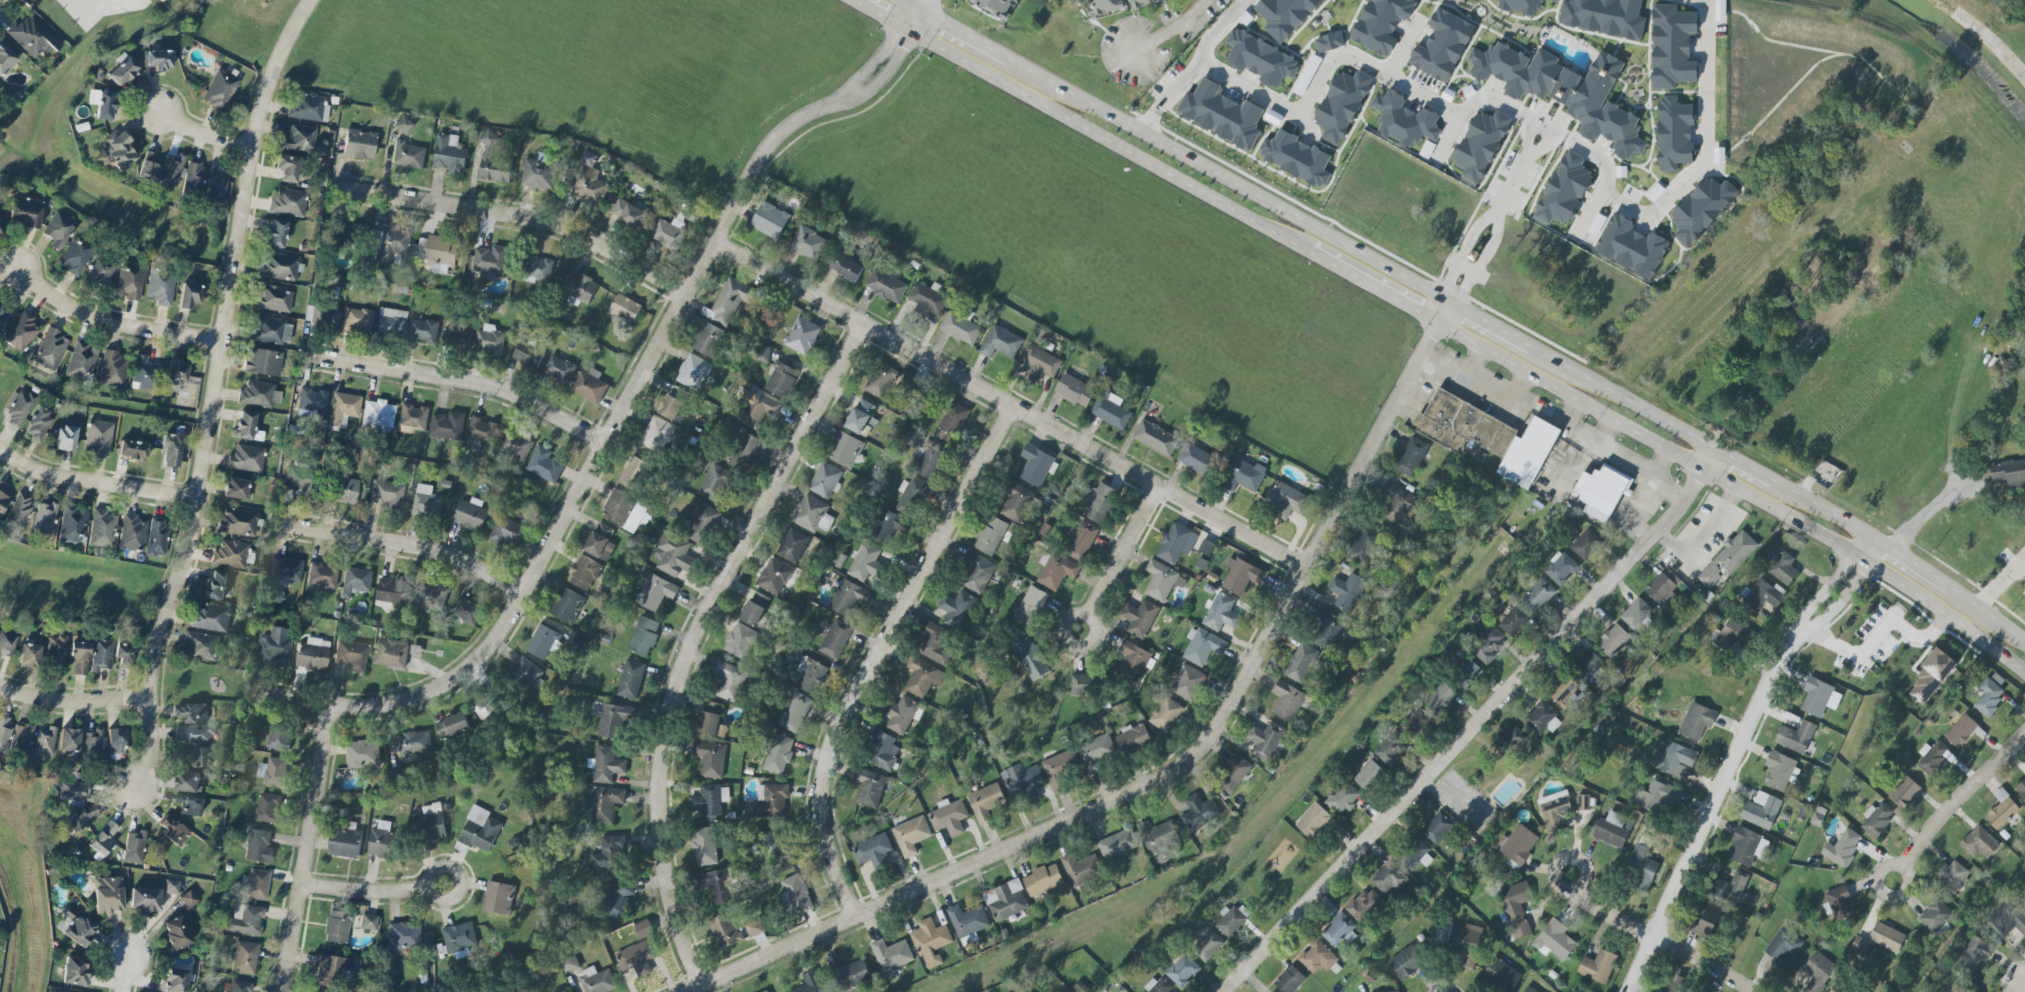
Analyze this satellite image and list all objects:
building: (161, 0)
building: (1551, 0)
building: (1142, 2)
road: (911, 5)
road: (924, 5)
building: (994, 6)
building: (1518, 6)
building: (1100, 7)
road: (880, 14)
building: (1284, 15)
building: (1604, 17)
road: (1222, 23)
building: (1380, 24)
road: (1174, 32)
building: (33, 37)
road: (964, 38)
building: (1328, 41)
building: (1443, 42)
building: (1672, 46)
building: (5, 59)
building: (1261, 59)
building: (158, 60)
building: (122, 69)
building: (1567, 89)
building: (219, 91)
road: (1172, 92)
building: (101, 104)
building: (1341, 104)
building: (308, 107)
building: (1221, 113)
road: (1531, 119)
building: (1406, 120)
building: (403, 125)
building: (1674, 134)
road: (208, 136)
building: (298, 138)
road: (1523, 138)
road: (1107, 141)
building: (359, 144)
building: (1482, 144)
road: (1541, 148)
building: (117, 150)
building: (407, 155)
building: (449, 155)
building: (1295, 157)
building: (492, 161)
building: (147, 168)
building: (287, 168)
building: (169, 170)
building: (538, 172)
building: (192, 179)
road: (1227, 182)
building: (217, 185)
building: (588, 186)
road: (1509, 187)
building: (1565, 189)
building: (287, 202)
building: (1702, 209)
building: (24, 212)
building: (629, 212)
road: (521, 218)
building: (769, 220)
building: (0, 230)
building: (57, 230)
building: (274, 233)
building: (668, 233)
building: (808, 243)
building: (389, 245)
building: (1630, 246)
building: (440, 250)
road: (1458, 250)
building: (74, 256)
building: (490, 260)
road: (1480, 262)
building: (279, 267)
building: (845, 267)
building: (538, 269)
building: (99, 273)
building: (1875, 273)
building: (129, 281)
building: (160, 286)
building: (885, 286)
building: (579, 287)
road: (1371, 287)
building: (188, 296)
building: (273, 298)
building: (927, 299)
building: (730, 300)
building: (625, 308)
building: (321, 314)
building: (2, 317)
building: (357, 320)
building: (390, 323)
building: (960, 325)
building: (1800, 325)
road: (1489, 326)
road: (117, 330)
building: (271, 330)
building: (422, 330)
building: (458, 331)
building: (20, 332)
building: (801, 336)
building: (1039, 336)
building: (489, 340)
building: (708, 340)
building: (1000, 343)
building: (50, 349)
building: (526, 354)
building: (762, 354)
building: (81, 362)
building: (262, 362)
building: (1040, 364)
building: (559, 369)
building: (112, 370)
building: (1102, 370)
building: (693, 371)
building: (142, 373)
building: (175, 375)
road: (461, 379)
building: (781, 380)
building: (882, 381)
building: (589, 386)
building: (1073, 389)
road: (220, 392)
building: (258, 394)
road: (1756, 397)
building: (312, 400)
road: (1625, 400)
building: (672, 403)
road: (1011, 406)
building: (17, 407)
building: (342, 408)
road: (619, 409)
building: (756, 409)
building: (1110, 411)
building: (413, 416)
building: (861, 416)
building: (376, 417)
building: (951, 422)
building: (38, 425)
building: (244, 425)
building: (447, 426)
building: (480, 430)
building: (656, 434)
building: (1491, 436)
building: (64, 438)
building: (98, 438)
building: (1155, 438)
building: (516, 447)
building: (845, 449)
building: (132, 450)
building: (171, 450)
building: (744, 451)
building: (1411, 457)
building: (246, 458)
building: (1196, 459)
building: (929, 462)
building: (544, 465)
building: (1036, 465)
road: (1747, 467)
parking lot: (1560, 471)
parking lot: (1622, 472)
building: (633, 473)
building: (2008, 473)
building: (1244, 475)
building: (825, 480)
building: (715, 483)
road: (97, 485)
road: (1735, 488)
building: (236, 489)
building: (345, 490)
building: (1601, 490)
building: (386, 494)
building: (911, 496)
building: (1287, 500)
building: (426, 501)
building: (3, 502)
building: (1016, 503)
building: (1100, 503)
building: (1398, 504)
building: (617, 507)
road: (1827, 510)
building: (18, 511)
building: (470, 514)
building: (812, 514)
road: (1927, 514)
building: (43, 518)
building: (636, 518)
building: (237, 522)
building: (72, 524)
building: (702, 524)
building: (888, 527)
building: (101, 529)
building: (506, 532)
building: (131, 533)
building: (990, 535)
parking lot: (1700, 537)
building: (156, 538)
building: (1080, 540)
building: (600, 541)
building: (1176, 543)
building: (1363, 544)
building: (1585, 544)
road: (409, 545)
building: (792, 545)
building: (230, 554)
building: (672, 554)
road: (2020, 557)
building: (1727, 558)
road: (1117, 560)
building: (865, 562)
road: (1905, 564)
building: (1783, 568)
building: (1560, 569)
building: (286, 570)
building: (1056, 571)
building: (583, 572)
building: (977, 573)
building: (1240, 575)
building: (321, 576)
building: (776, 577)
building: (1162, 581)
building: (355, 582)
road: (1997, 583)
building: (216, 584)
building: (1660, 588)
building: (393, 590)
building: (1347, 591)
building: (654, 592)
building: (1538, 595)
building: (1763, 595)
building: (430, 597)
building: (848, 597)
building: (567, 606)
building: (1030, 606)
building: (755, 608)
building: (956, 609)
building: (466, 611)
building: (1221, 613)
building: (1636, 614)
building: (337, 615)
road: (1981, 617)
building: (210, 618)
building: (1139, 618)
building: (1513, 621)
building: (373, 623)
building: (1327, 629)
road: (1875, 635)
building: (643, 636)
building: (1734, 636)
road: (691, 637)
building: (605, 639)
building: (835, 639)
building: (741, 641)
building: (1613, 641)
building: (543, 642)
building: (935, 644)
building: (6, 645)
building: (200, 645)
building: (1487, 645)
building: (274, 647)
building: (1202, 647)
building: (56, 651)
building: (390, 653)
road: (877, 653)
building: (124, 654)
building: (101, 655)
building: (28, 656)
building: (309, 656)
building: (351, 656)
building: (79, 658)
building: (1030, 658)
building: (1132, 660)
building: (1300, 663)
building: (1588, 665)
building: (1458, 670)
building: (1706, 671)
building: (526, 672)
building: (811, 676)
building: (922, 677)
building: (1930, 677)
building: (630, 680)
building: (729, 681)
building: (1187, 683)
building: (1086, 684)
building: (1565, 694)
building: (1988, 696)
building: (1439, 697)
building: (1816, 697)
road: (78, 703)
building: (794, 712)
building: (192, 713)
building: (1165, 714)
building: (901, 715)
building: (711, 719)
building: (1542, 719)
building: (613, 720)
building: (1696, 721)
building: (1418, 724)
road: (1473, 724)
building: (452, 727)
building: (1960, 731)
building: (4, 734)
building: (195, 734)
building: (277, 735)
building: (1795, 737)
building: (21, 738)
building: (1132, 739)
building: (1265, 740)
building: (1513, 740)
building: (45, 741)
building: (68, 741)
building: (116, 742)
building: (91, 743)
building: (413, 745)
building: (1390, 748)
building: (880, 750)
building: (1095, 752)
building: (362, 754)
building: (777, 754)
road: (1732, 756)
building: (200, 757)
building: (1931, 757)
building: (710, 759)
building: (1674, 760)
building: (606, 764)
building: (1061, 768)
road: (1177, 770)
building: (1780, 771)
building: (275, 772)
building: (1233, 774)
building: (1368, 776)
building: (1021, 779)
building: (187, 781)
building: (870, 787)
building: (2021, 791)
building: (1904, 792)
building: (1656, 796)
building: (1342, 799)
building: (709, 801)
building: (771, 801)
building: (985, 801)
road: (1953, 801)
building: (1583, 802)
building: (605, 803)
building: (79, 804)
building: (188, 805)
building: (268, 808)
building: (2001, 809)
building: (1554, 810)
building: (1761, 810)
building: (1199, 812)
building: (1817, 816)
building: (948, 817)
building: (1876, 819)
building: (1311, 820)
building: (428, 827)
building: (1437, 828)
building: (172, 830)
building: (479, 830)
building: (1611, 830)
building: (911, 835)
building: (1157, 835)
building: (103, 839)
building: (382, 841)
building: (344, 843)
building: (1979, 843)
building: (1117, 844)
building: (1516, 844)
building: (258, 846)
building: (705, 846)
building: (134, 847)
road: (304, 847)
building: (1746, 847)
building: (1844, 849)
building: (873, 851)
building: (609, 853)
building: (1416, 856)
building: (1640, 868)
building: (1081, 869)
park: (1279, 870)
building: (1951, 874)
building: (1388, 878)
building: (1042, 880)
building: (256, 885)
building: (714, 885)
building: (171, 887)
building: (1730, 888)
road: (373, 891)
building: (2024, 893)
building: (796, 894)
building: (107, 895)
building: (498, 898)
building: (2023, 898)
building: (144, 899)
building: (188, 899)
building: (617, 899)
building: (1006, 900)
building: (1839, 902)
building: (1363, 905)
building: (1516, 907)
building: (1934, 916)
building: (245, 920)
building: (1232, 920)
building: (2006, 920)
building: (1705, 921)
building: (967, 922)
building: (368, 923)
building: (337, 926)
building: (77, 927)
building: (753, 927)
building: (643, 929)
building: (1339, 930)
building: (724, 931)
building: (176, 933)
building: (402, 937)
building: (459, 937)
building: (1886, 937)
building: (929, 940)
building: (1555, 940)
road: (1655, 941)
building: (1783, 944)
building: (1465, 945)
building: (1859, 945)
building: (1207, 947)
building: (1973, 953)
building: (891, 955)
building: (244, 957)
building: (1317, 957)
building: (636, 958)
building: (1405, 962)
building: (569, 964)
building: (1598, 966)
building: (74, 971)
building: (330, 971)
building: (1181, 971)
building: (1816, 971)
building: (850, 973)
building: (1499, 975)
road: (130, 979)
building: (174, 980)
building: (597, 980)
building: (1289, 980)
building: (809, 983)
building: (1674, 984)
building: (238, 986)
building: (1157, 986)
road: (2024, 987)
building: (1837, 988)
building: (1527, 990)
building: (1971, 990)
building: (564, 991)
building: (764, 991)

